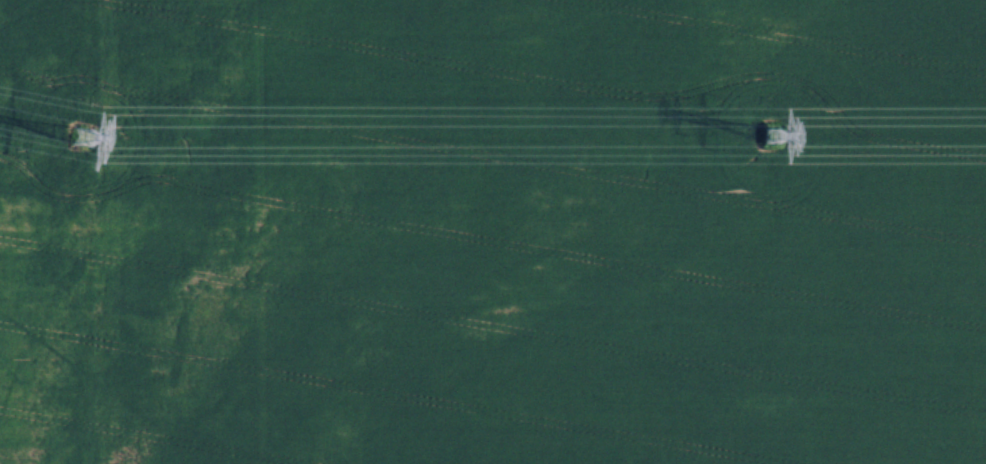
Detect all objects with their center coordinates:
power tower: (768, 137)
power tower: (82, 142)

